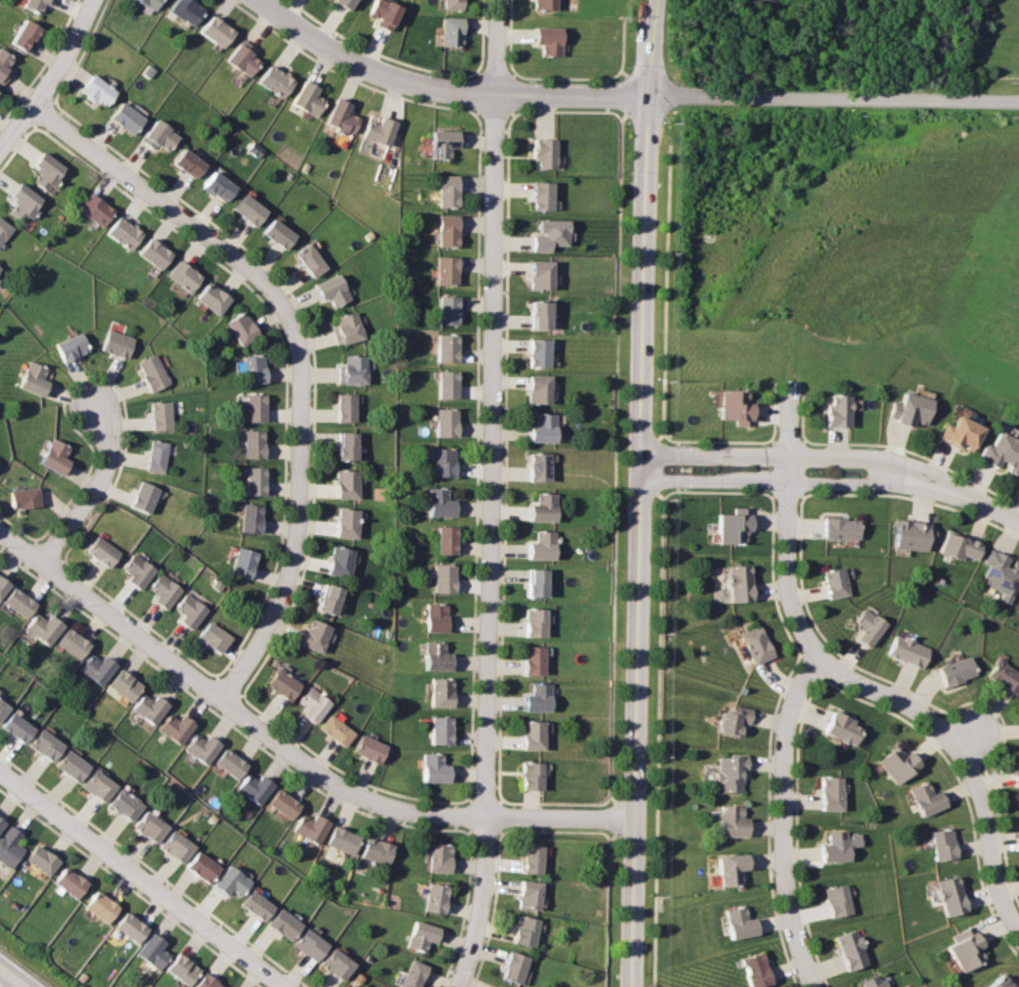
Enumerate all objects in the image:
building: (153, 2)
building: (338, 2)
building: (449, 3)
building: (39, 5)
building: (542, 5)
building: (189, 10)
building: (379, 11)
building: (449, 29)
building: (218, 30)
building: (28, 34)
road: (480, 36)
road: (509, 37)
building: (546, 41)
road: (619, 43)
road: (374, 53)
building: (244, 58)
building: (6, 63)
road: (492, 75)
road: (567, 78)
building: (276, 80)
road: (56, 82)
road: (443, 89)
building: (101, 90)
road: (510, 91)
road: (625, 94)
road: (480, 95)
road: (832, 96)
building: (309, 97)
road: (497, 110)
road: (566, 112)
building: (343, 114)
building: (129, 117)
building: (380, 129)
building: (161, 135)
building: (447, 142)
building: (547, 153)
building: (191, 162)
building: (49, 170)
building: (220, 185)
building: (451, 191)
building: (544, 196)
building: (25, 202)
building: (98, 209)
building: (251, 209)
road: (193, 222)
building: (4, 229)
building: (451, 231)
building: (125, 232)
building: (280, 233)
building: (551, 235)
building: (156, 252)
building: (312, 259)
building: (0, 267)
building: (450, 270)
building: (185, 275)
building: (543, 275)
building: (334, 290)
building: (214, 298)
building: (451, 309)
building: (542, 314)
building: (243, 327)
building: (348, 327)
building: (118, 342)
building: (73, 346)
building: (448, 347)
building: (541, 352)
building: (256, 368)
building: (353, 369)
building: (154, 372)
building: (36, 378)
building: (449, 384)
building: (541, 388)
building: (732, 406)
building: (257, 407)
building: (348, 407)
building: (908, 409)
building: (832, 410)
building: (162, 415)
building: (448, 421)
building: (544, 427)
building: (958, 433)
building: (255, 444)
building: (349, 445)
building: (1000, 453)
building: (157, 455)
building: (57, 456)
building: (445, 461)
building: (539, 466)
road: (834, 470)
building: (257, 480)
building: (348, 483)
road: (98, 489)
road: (640, 493)
road: (492, 495)
building: (146, 496)
building: (28, 497)
building: (441, 502)
building: (543, 507)
building: (253, 517)
building: (347, 522)
road: (787, 526)
building: (729, 528)
building: (835, 528)
building: (905, 536)
building: (447, 540)
road: (299, 544)
building: (543, 545)
building: (954, 548)
building: (103, 550)
building: (340, 560)
building: (245, 562)
building: (138, 570)
building: (996, 576)
building: (446, 578)
building: (538, 583)
building: (733, 583)
building: (830, 583)
building: (4, 585)
building: (164, 590)
building: (331, 598)
building: (22, 602)
building: (191, 610)
building: (439, 617)
building: (536, 622)
building: (46, 627)
building: (863, 627)
building: (317, 634)
building: (216, 636)
building: (74, 643)
building: (750, 645)
building: (902, 652)
building: (438, 656)
building: (535, 660)
building: (100, 666)
building: (951, 671)
building: (1003, 676)
building: (126, 684)
building: (285, 684)
building: (443, 692)
building: (540, 697)
building: (315, 704)
building: (151, 707)
building: (4, 708)
building: (729, 719)
building: (20, 727)
building: (177, 727)
building: (837, 728)
building: (443, 729)
building: (338, 730)
building: (534, 734)
road: (975, 734)
building: (48, 745)
building: (204, 747)
road: (286, 748)
building: (372, 748)
road: (967, 757)
building: (892, 762)
building: (232, 763)
building: (74, 765)
building: (437, 768)
building: (726, 774)
building: (534, 775)
building: (1012, 775)
building: (100, 785)
building: (256, 787)
building: (825, 793)
building: (921, 798)
building: (285, 803)
building: (127, 804)
building: (726, 821)
road: (784, 822)
building: (2, 823)
building: (151, 826)
building: (310, 826)
building: (343, 839)
building: (938, 844)
building: (178, 845)
building: (11, 846)
building: (830, 847)
building: (378, 850)
building: (441, 857)
building: (43, 859)
building: (533, 859)
building: (203, 866)
building: (726, 869)
road: (142, 879)
building: (71, 882)
building: (232, 882)
building: (530, 895)
building: (436, 897)
building: (945, 897)
building: (832, 901)
building: (258, 905)
building: (102, 906)
building: (285, 923)
building: (735, 923)
building: (132, 926)
building: (525, 931)
building: (422, 935)
building: (311, 945)
building: (154, 949)
building: (844, 950)
building: (962, 952)
building: (337, 964)
building: (515, 967)
building: (183, 968)
building: (751, 971)
building: (414, 974)
road: (9, 979)
building: (207, 982)
building: (869, 982)
building: (994, 982)
building: (496, 986)
building: (498, 986)

